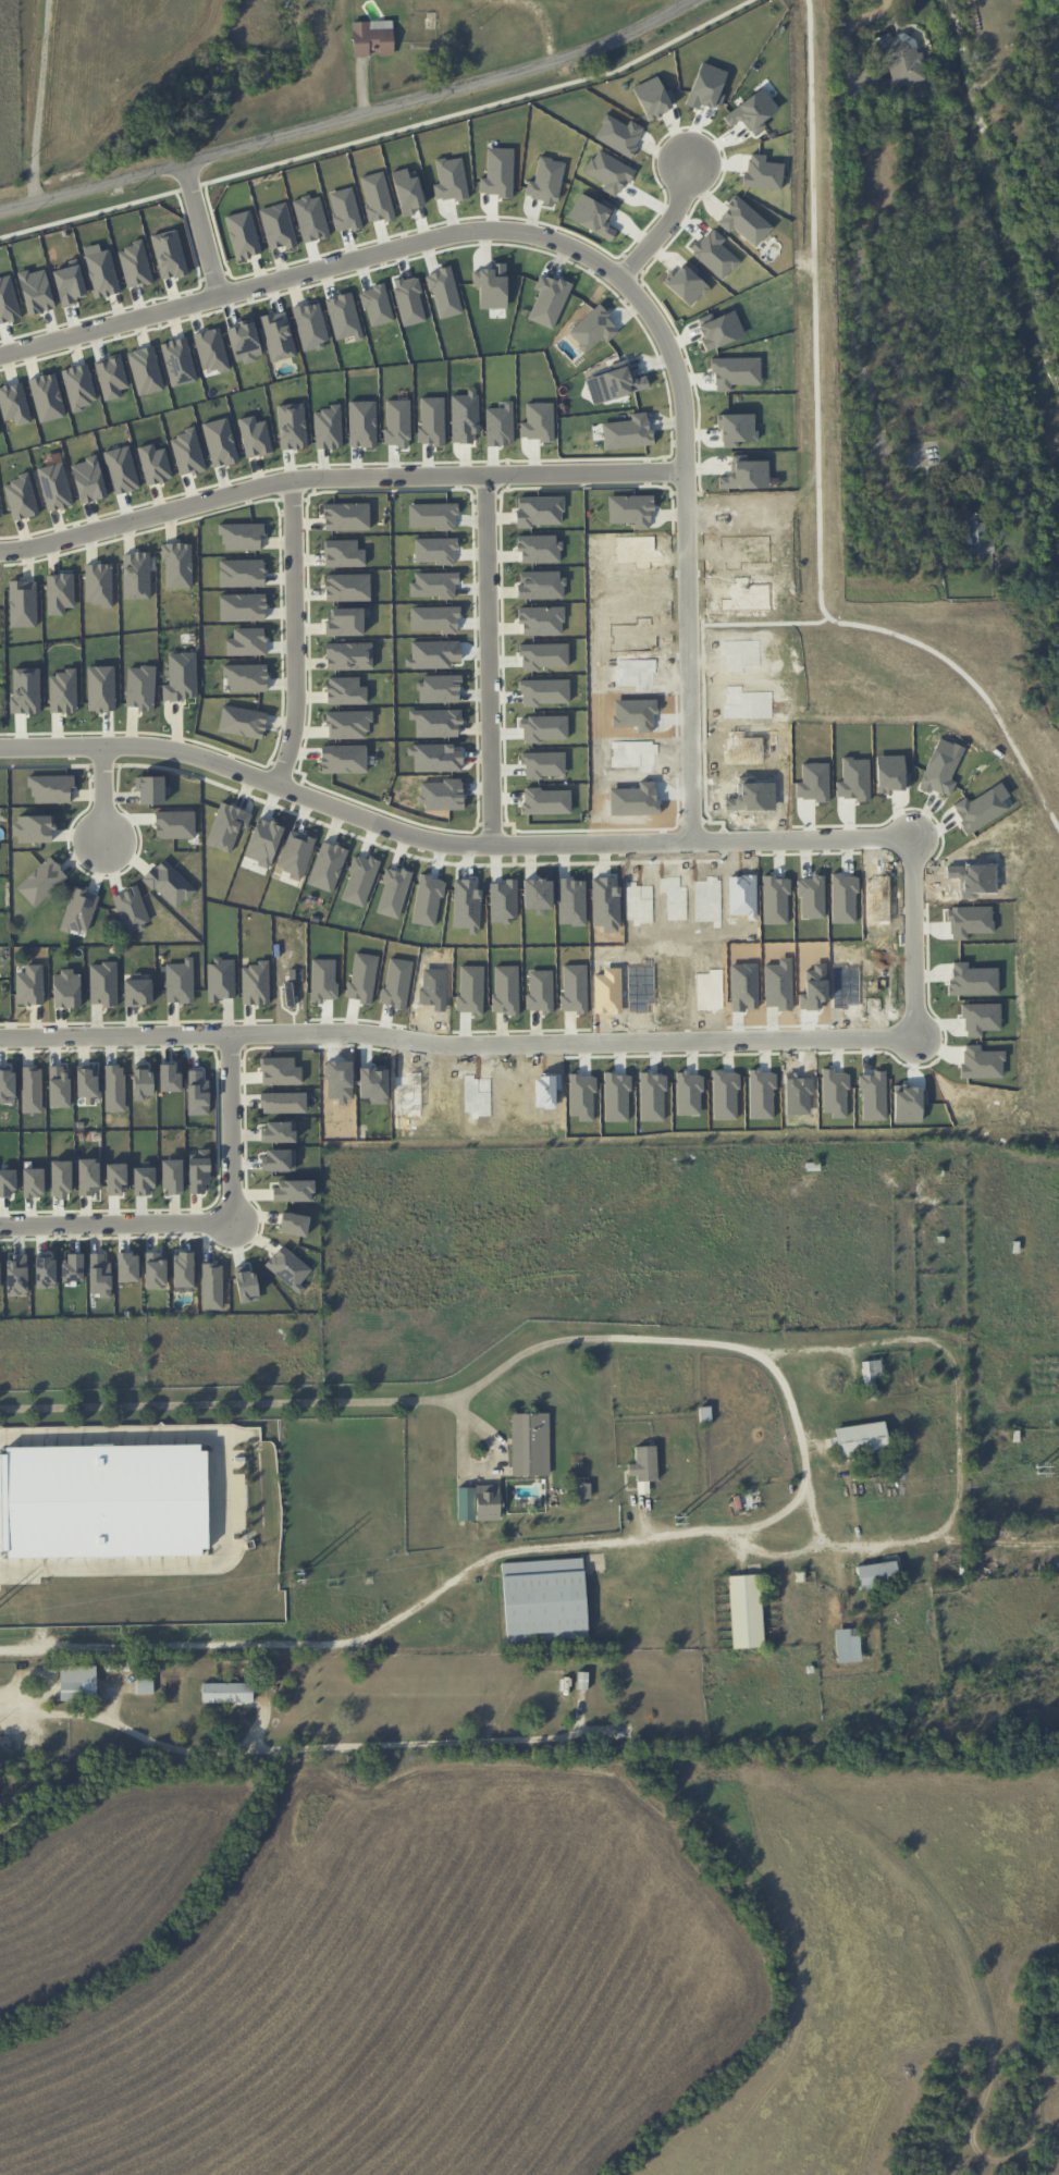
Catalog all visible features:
road: (1058, 2)
building: (371, 38)
building: (901, 60)
building: (706, 87)
building: (653, 97)
road: (38, 100)
building: (752, 110)
road: (350, 116)
building: (618, 135)
building: (608, 172)
building: (762, 173)
building: (743, 221)
road: (667, 225)
road: (201, 230)
road: (857, 244)
building: (714, 254)
road: (594, 257)
building: (101, 273)
building: (255, 437)
building: (220, 442)
building: (186, 453)
building: (153, 464)
building: (88, 479)
road: (338, 479)
building: (54, 487)
building: (21, 497)
building: (346, 516)
building: (974, 533)
building: (242, 537)
building: (343, 553)
building: (177, 565)
building: (241, 573)
building: (137, 578)
building: (98, 583)
building: (347, 587)
building: (59, 592)
building: (23, 603)
building: (242, 606)
building: (346, 622)
road: (296, 634)
building: (246, 641)
building: (348, 655)
road: (491, 661)
building: (181, 677)
building: (246, 677)
building: (100, 688)
building: (345, 690)
building: (62, 691)
building: (748, 702)
building: (635, 713)
building: (242, 722)
building: (347, 724)
building: (743, 748)
building: (635, 753)
building: (343, 759)
building: (51, 788)
building: (150, 789)
building: (752, 795)
road: (107, 796)
building: (635, 800)
building: (226, 826)
building: (34, 828)
building: (327, 865)
building: (41, 882)
building: (78, 910)
road: (914, 931)
building: (220, 980)
building: (180, 981)
building: (255, 983)
building: (103, 984)
building: (29, 985)
building: (66, 990)
building: (137, 992)
building: (280, 1071)
building: (169, 1078)
building: (141, 1082)
building: (7, 1083)
building: (86, 1083)
building: (59, 1086)
building: (114, 1087)
building: (32, 1089)
building: (283, 1102)
building: (278, 1132)
building: (198, 1170)
building: (88, 1176)
building: (172, 1176)
building: (60, 1178)
building: (115, 1179)
building: (143, 1181)
building: (33, 1182)
building: (294, 1190)
road: (210, 1221)
building: (293, 1224)
building: (73, 1266)
building: (127, 1266)
building: (183, 1269)
building: (155, 1270)
building: (45, 1271)
building: (99, 1275)
building: (16, 1276)
building: (211, 1286)
building: (860, 1438)
road: (809, 1442)
building: (530, 1445)
building: (643, 1463)
power tower: (1039, 1467)
road: (224, 1498)
building: (488, 1502)
building: (112, 1503)
power tower: (675, 1517)
building: (876, 1573)
power tower: (298, 1575)
building: (847, 1646)
building: (77, 1682)
building: (226, 1692)
road: (293, 1752)

